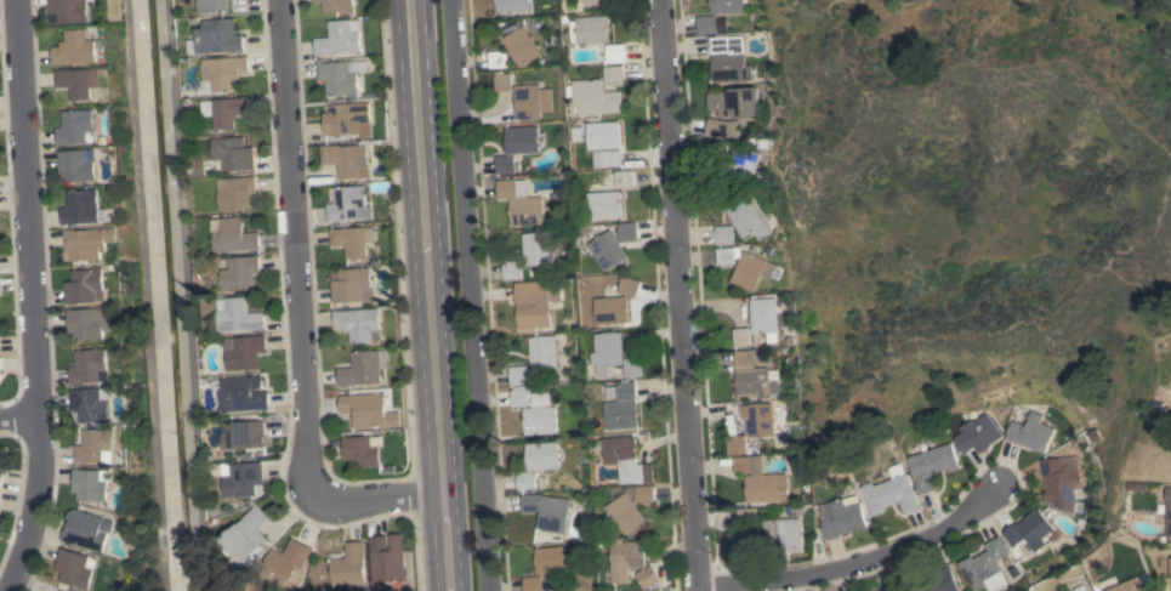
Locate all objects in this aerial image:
building: (591, 2)
building: (214, 5)
building: (511, 5)
building: (337, 6)
building: (724, 6)
building: (70, 10)
building: (706, 24)
building: (590, 29)
building: (217, 36)
building: (339, 38)
building: (521, 46)
building: (75, 49)
building: (616, 53)
building: (728, 58)
building: (498, 59)
building: (223, 72)
building: (614, 74)
building: (341, 76)
building: (79, 81)
building: (502, 83)
building: (595, 97)
building: (530, 101)
building: (734, 102)
building: (229, 110)
building: (345, 118)
building: (76, 127)
building: (721, 127)
building: (603, 135)
building: (522, 140)
building: (718, 150)
building: (232, 154)
building: (607, 158)
building: (347, 159)
building: (79, 164)
building: (506, 164)
building: (741, 166)
building: (625, 178)
building: (237, 192)
building: (519, 203)
building: (348, 204)
building: (604, 205)
building: (81, 206)
building: (746, 217)
building: (627, 232)
building: (723, 234)
building: (234, 235)
building: (352, 239)
road: (296, 240)
building: (89, 243)
building: (538, 249)
building: (608, 250)
building: (724, 256)
building: (512, 269)
building: (750, 271)
building: (240, 273)
building: (349, 284)
building: (85, 285)
building: (629, 286)
road: (428, 295)
road: (470, 295)
road: (676, 295)
road: (36, 297)
building: (535, 303)
building: (612, 309)
building: (238, 314)
building: (763, 318)
building: (89, 323)
building: (358, 323)
building: (740, 337)
building: (245, 351)
building: (542, 352)
building: (607, 352)
building: (743, 359)
building: (0, 366)
building: (91, 366)
building: (633, 366)
building: (360, 368)
building: (518, 375)
building: (756, 382)
building: (243, 393)
building: (91, 404)
building: (621, 405)
building: (368, 410)
building: (535, 411)
building: (762, 419)
road: (22, 422)
building: (1029, 432)
building: (246, 433)
building: (977, 434)
building: (737, 444)
building: (96, 445)
building: (362, 450)
building: (541, 455)
building: (626, 459)
building: (932, 465)
building: (1, 477)
building: (243, 477)
building: (1058, 478)
building: (525, 479)
building: (760, 481)
building: (92, 484)
building: (644, 493)
building: (891, 493)
road: (373, 496)
building: (1167, 510)
building: (546, 511)
building: (626, 512)
building: (745, 517)
building: (842, 517)
building: (89, 529)
building: (1028, 530)
building: (248, 535)
building: (778, 535)
building: (387, 558)
building: (626, 558)
building: (288, 559)
building: (551, 559)
road: (854, 563)
building: (348, 564)
building: (987, 566)
building: (75, 568)
building: (648, 576)
building: (1167, 579)
building: (932, 581)
building: (533, 584)
building: (1127, 585)
building: (889, 587)
building: (1080, 589)
building: (62, 590)

